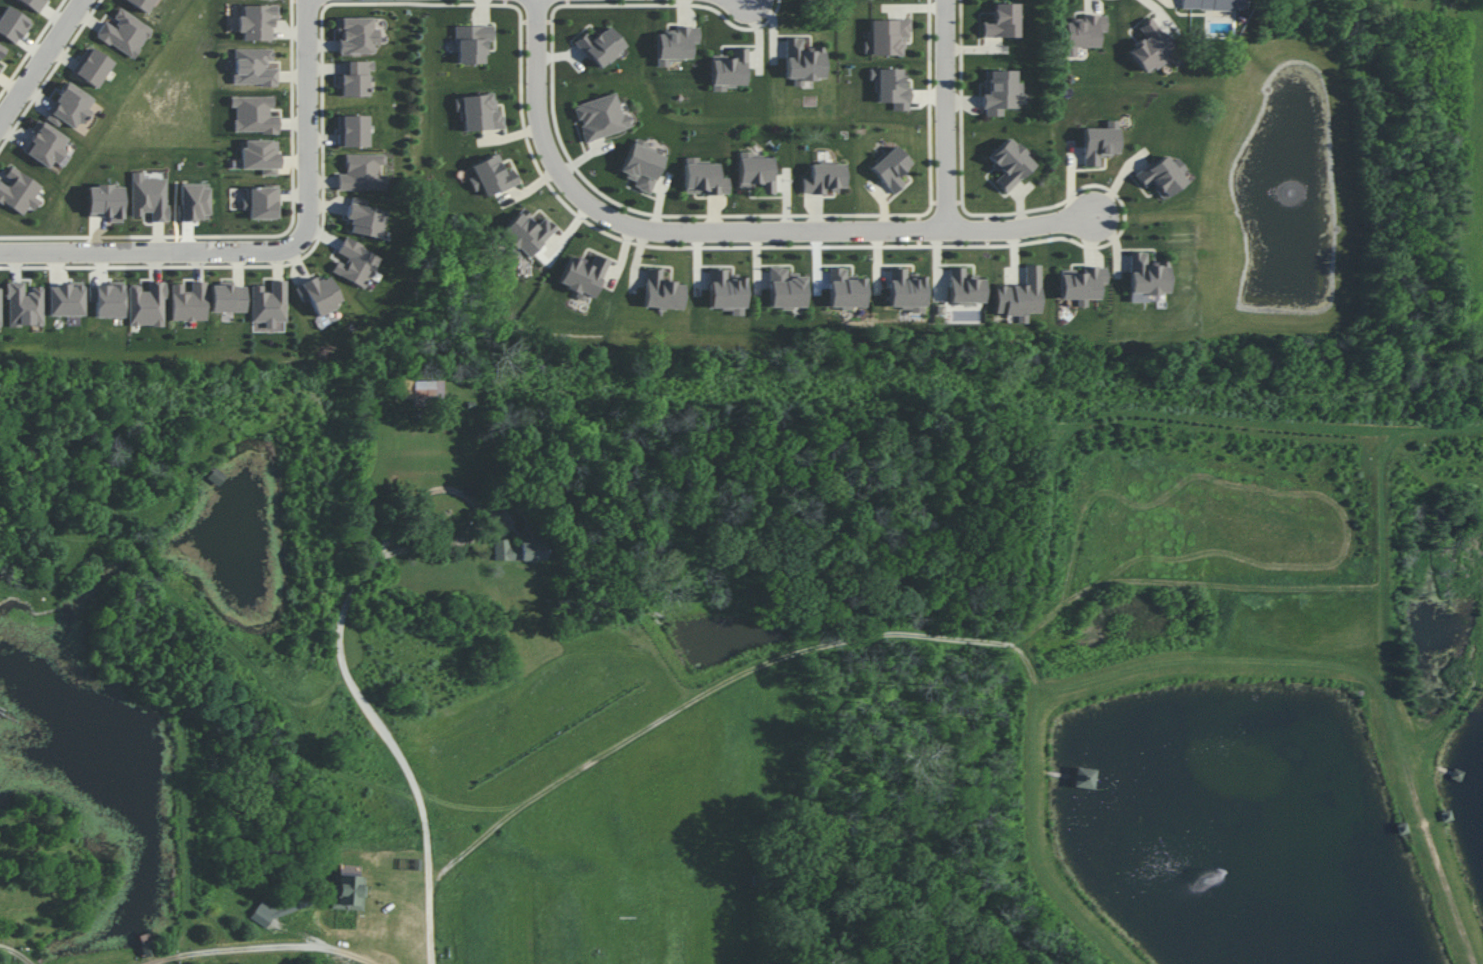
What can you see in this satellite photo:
building: (33, 4)
building: (141, 4)
building: (1212, 4)
building: (1002, 21)
building: (256, 22)
building: (12, 24)
building: (124, 33)
building: (1082, 33)
building: (356, 35)
building: (886, 36)
building: (471, 43)
building: (675, 44)
building: (600, 46)
building: (1150, 46)
building: (1, 49)
road: (40, 59)
building: (802, 62)
building: (91, 67)
building: (253, 67)
building: (0, 68)
building: (729, 70)
building: (354, 78)
building: (890, 88)
building: (1000, 92)
road: (536, 102)
building: (69, 107)
building: (478, 111)
building: (253, 114)
road: (944, 116)
building: (600, 117)
road: (306, 124)
building: (352, 131)
building: (1099, 142)
building: (46, 144)
building: (260, 156)
building: (1009, 164)
building: (641, 165)
building: (891, 168)
building: (362, 172)
building: (755, 172)
building: (491, 176)
building: (1161, 176)
building: (703, 178)
building: (823, 178)
building: (19, 192)
building: (148, 196)
building: (193, 201)
building: (105, 202)
building: (261, 202)
building: (363, 218)
road: (1022, 229)
road: (755, 232)
building: (525, 233)
road: (149, 254)
building: (354, 263)
building: (1145, 275)
building: (582, 276)
building: (1080, 284)
building: (963, 287)
building: (785, 289)
building: (844, 289)
building: (905, 290)
building: (661, 291)
building: (726, 292)
building: (318, 294)
building: (1019, 296)
building: (228, 298)
building: (65, 299)
building: (106, 300)
building: (189, 302)
building: (269, 303)
building: (24, 305)
building: (146, 305)
building: (0, 315)
building: (424, 390)
road: (485, 508)
building: (520, 549)
road: (776, 661)
road: (1388, 679)
wastewater plant: (1259, 686)
road: (396, 751)
building: (347, 892)
road: (267, 948)
road: (19, 950)

